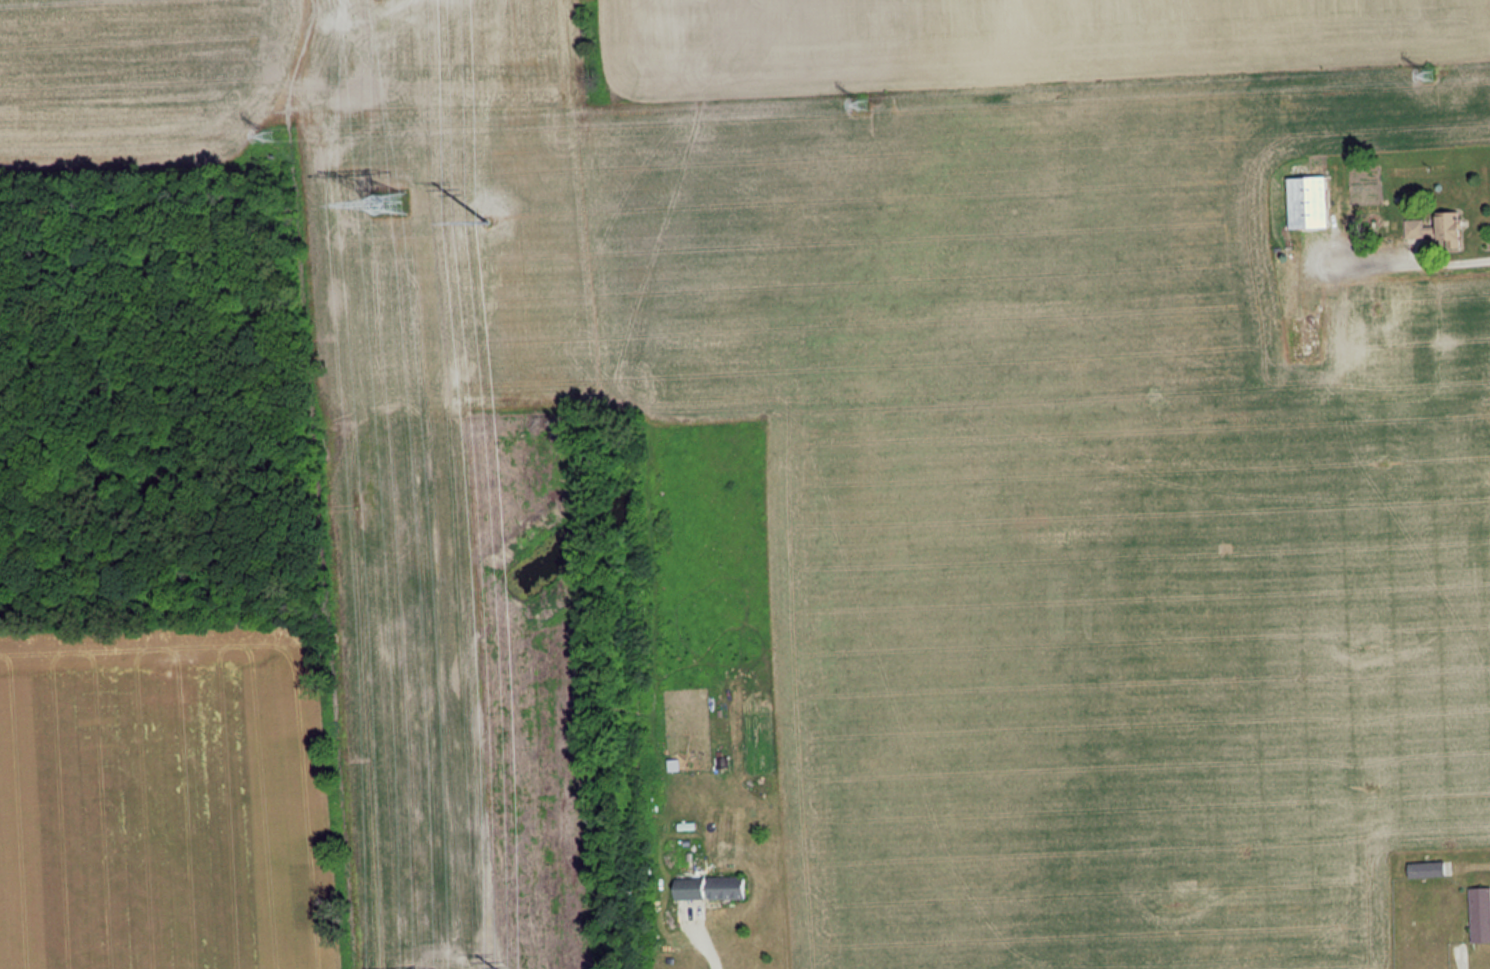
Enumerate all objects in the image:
power tower: (1429, 74)
power tower: (863, 104)
power tower: (265, 134)
building: (1307, 202)
power tower: (387, 204)
power tower: (490, 223)
building: (1445, 227)
road: (1443, 259)
building: (1307, 338)
building: (1424, 869)
building: (706, 888)
building: (1479, 915)
road: (709, 943)

